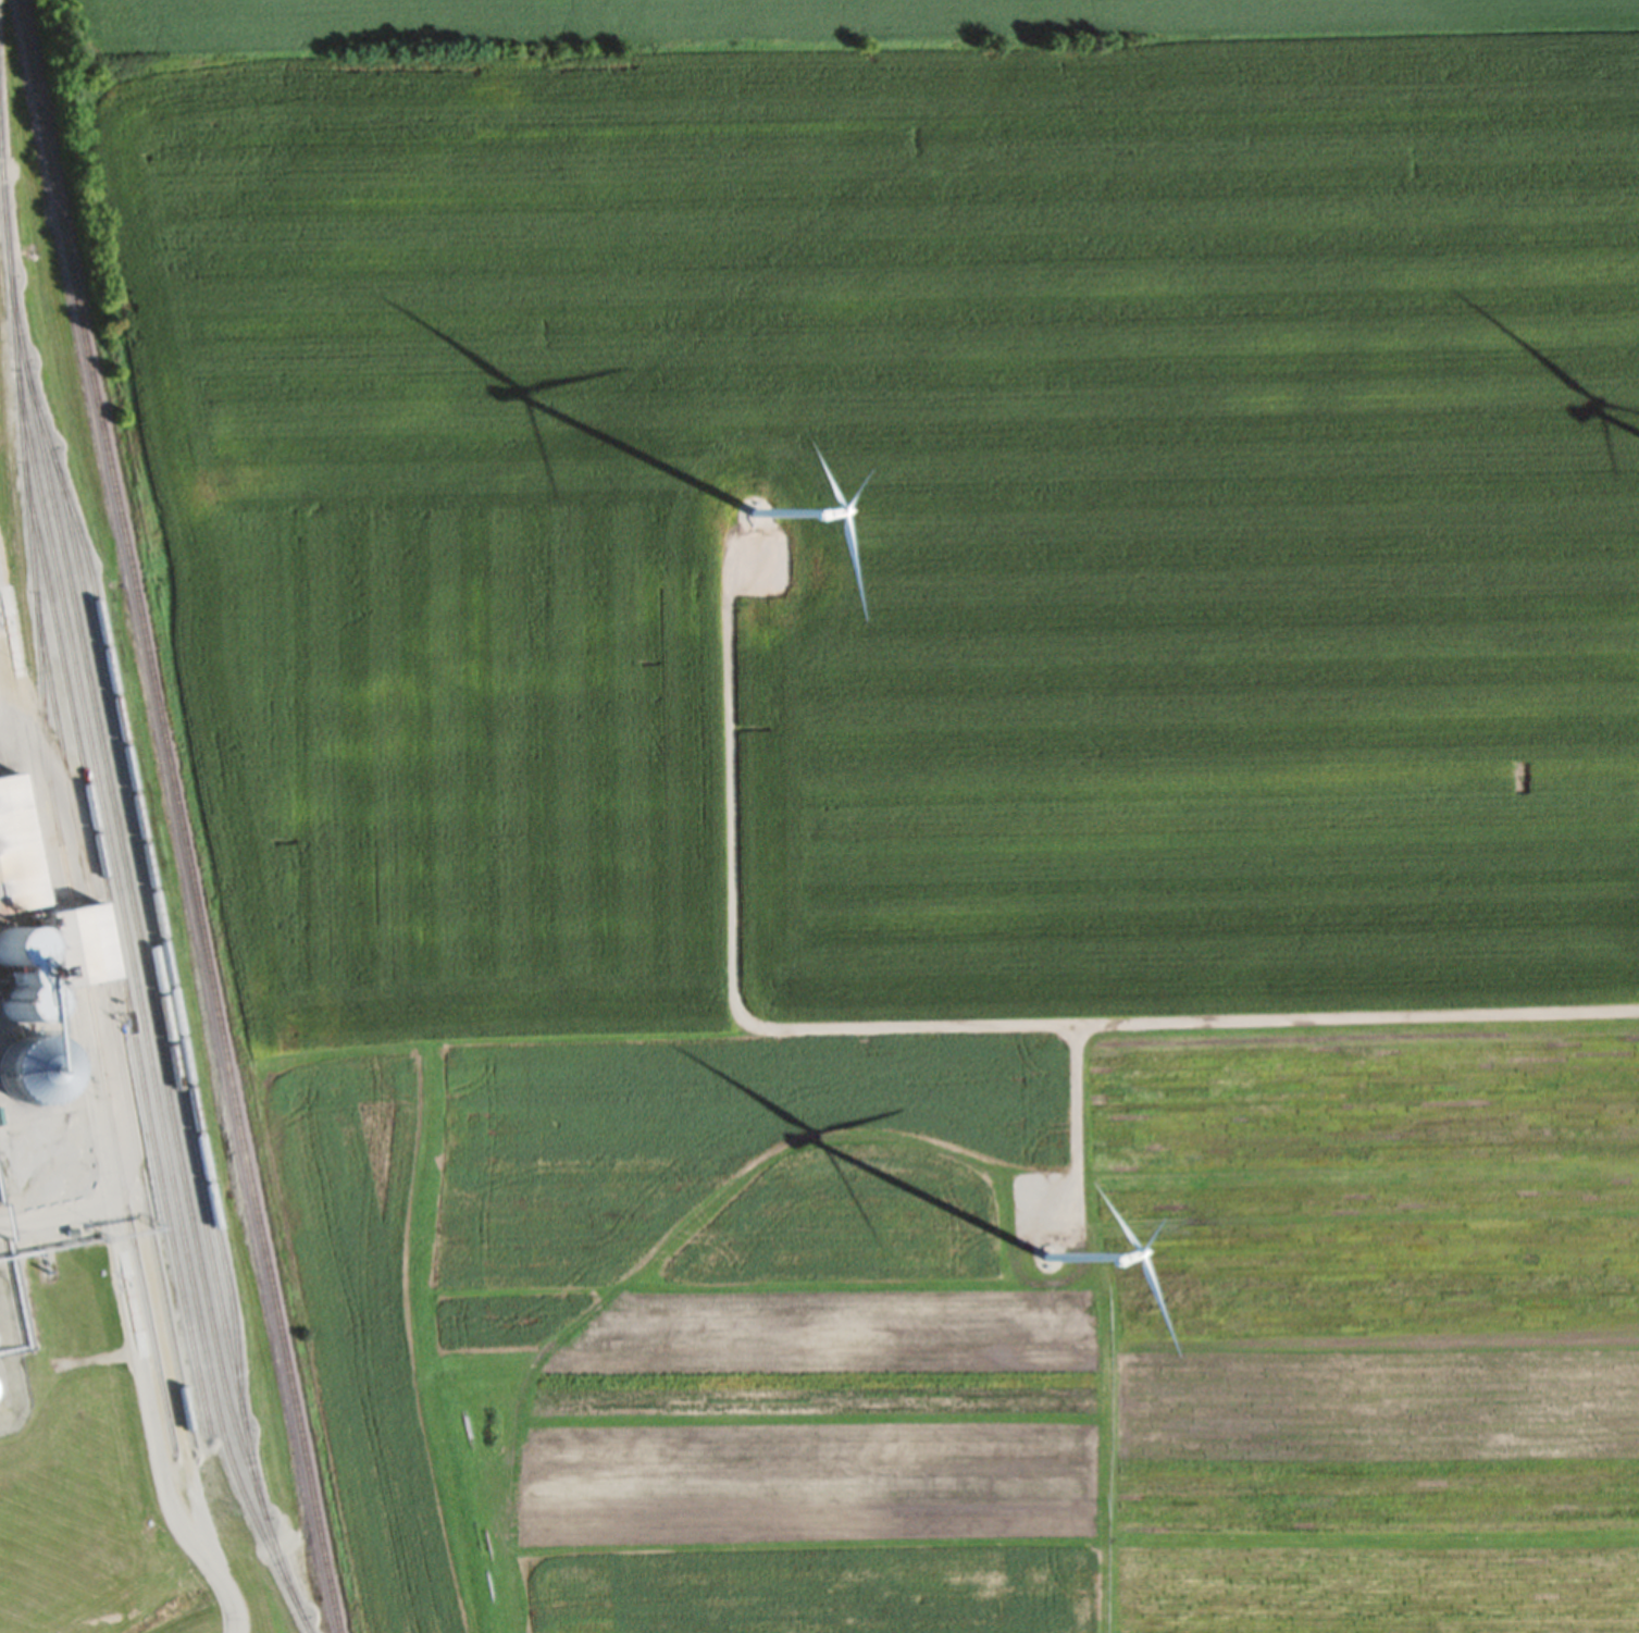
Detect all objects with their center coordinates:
wind turbine: (757, 520)
railway: (175, 816)
railway: (48, 825)
railway: (149, 898)
building: (18, 899)
railway: (112, 956)
railway: (137, 957)
railway: (156, 990)
railway: (137, 1012)
railway: (107, 1028)
road: (936, 1031)
road: (1070, 1138)
road: (103, 1187)
road: (54, 1224)
wind turbine: (1044, 1264)
crop: (978, 1336)

